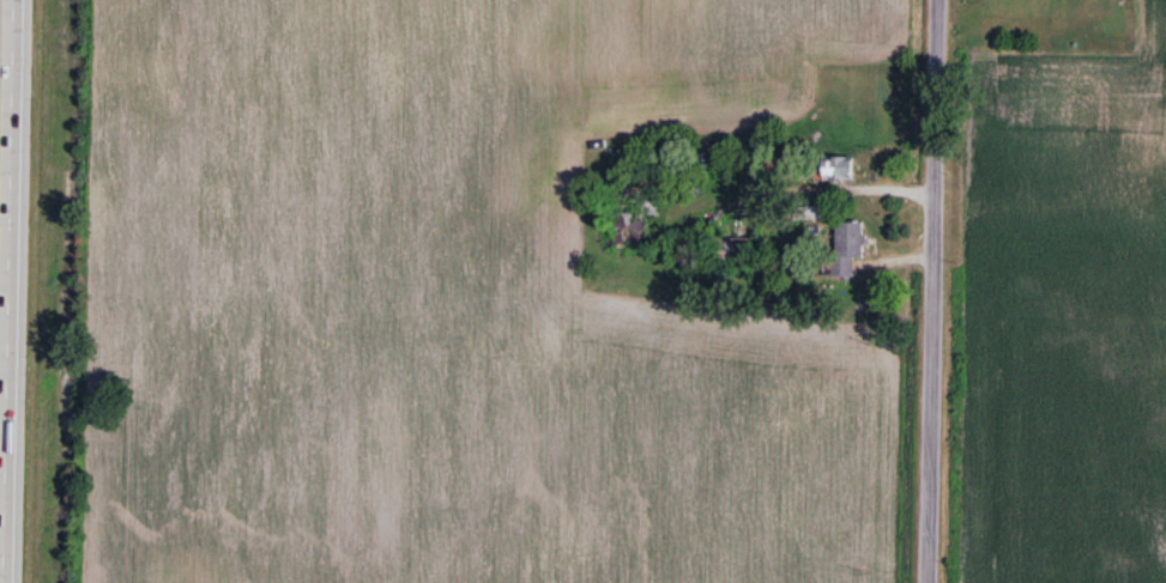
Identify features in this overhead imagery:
building: (829, 169)
building: (804, 214)
building: (630, 218)
building: (848, 248)
building: (737, 251)
road: (12, 291)
road: (931, 291)

